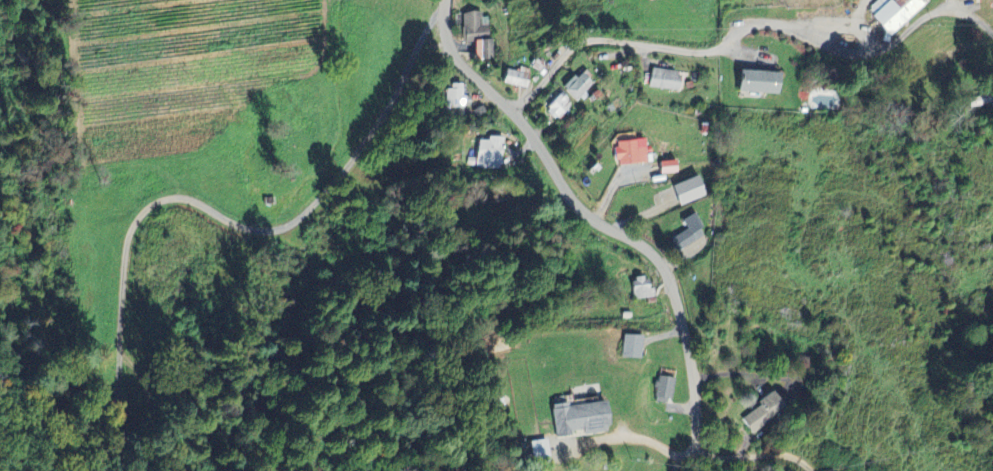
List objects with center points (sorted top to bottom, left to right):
building: (894, 14)
road: (749, 25)
building: (516, 76)
building: (664, 78)
building: (755, 81)
building: (577, 85)
building: (457, 96)
building: (979, 99)
building: (560, 107)
road: (371, 139)
building: (628, 151)
building: (489, 152)
building: (666, 166)
building: (688, 190)
road: (600, 221)
building: (686, 232)
building: (642, 287)
building: (632, 345)
building: (664, 389)
building: (763, 412)
building: (577, 417)
road: (624, 436)
building: (535, 453)
road: (765, 453)
road: (685, 455)

